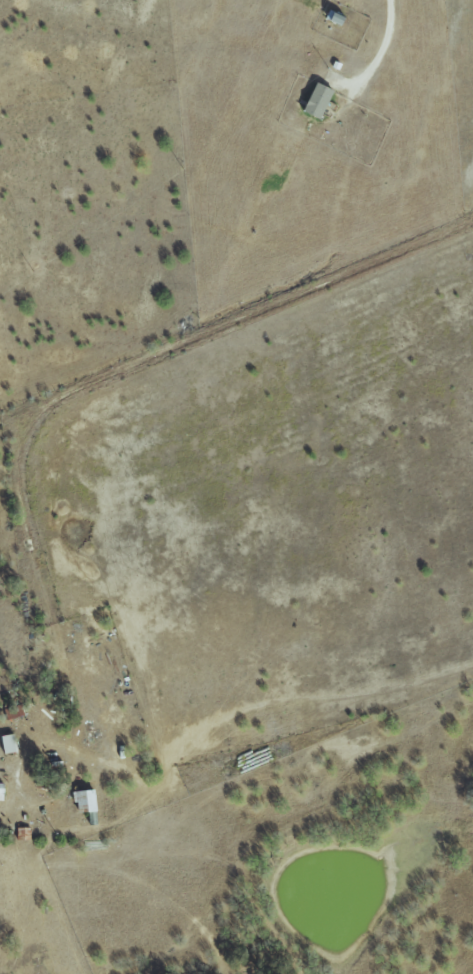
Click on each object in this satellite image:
road: (384, 46)
building: (313, 101)
road: (80, 440)
building: (10, 744)
building: (86, 801)

